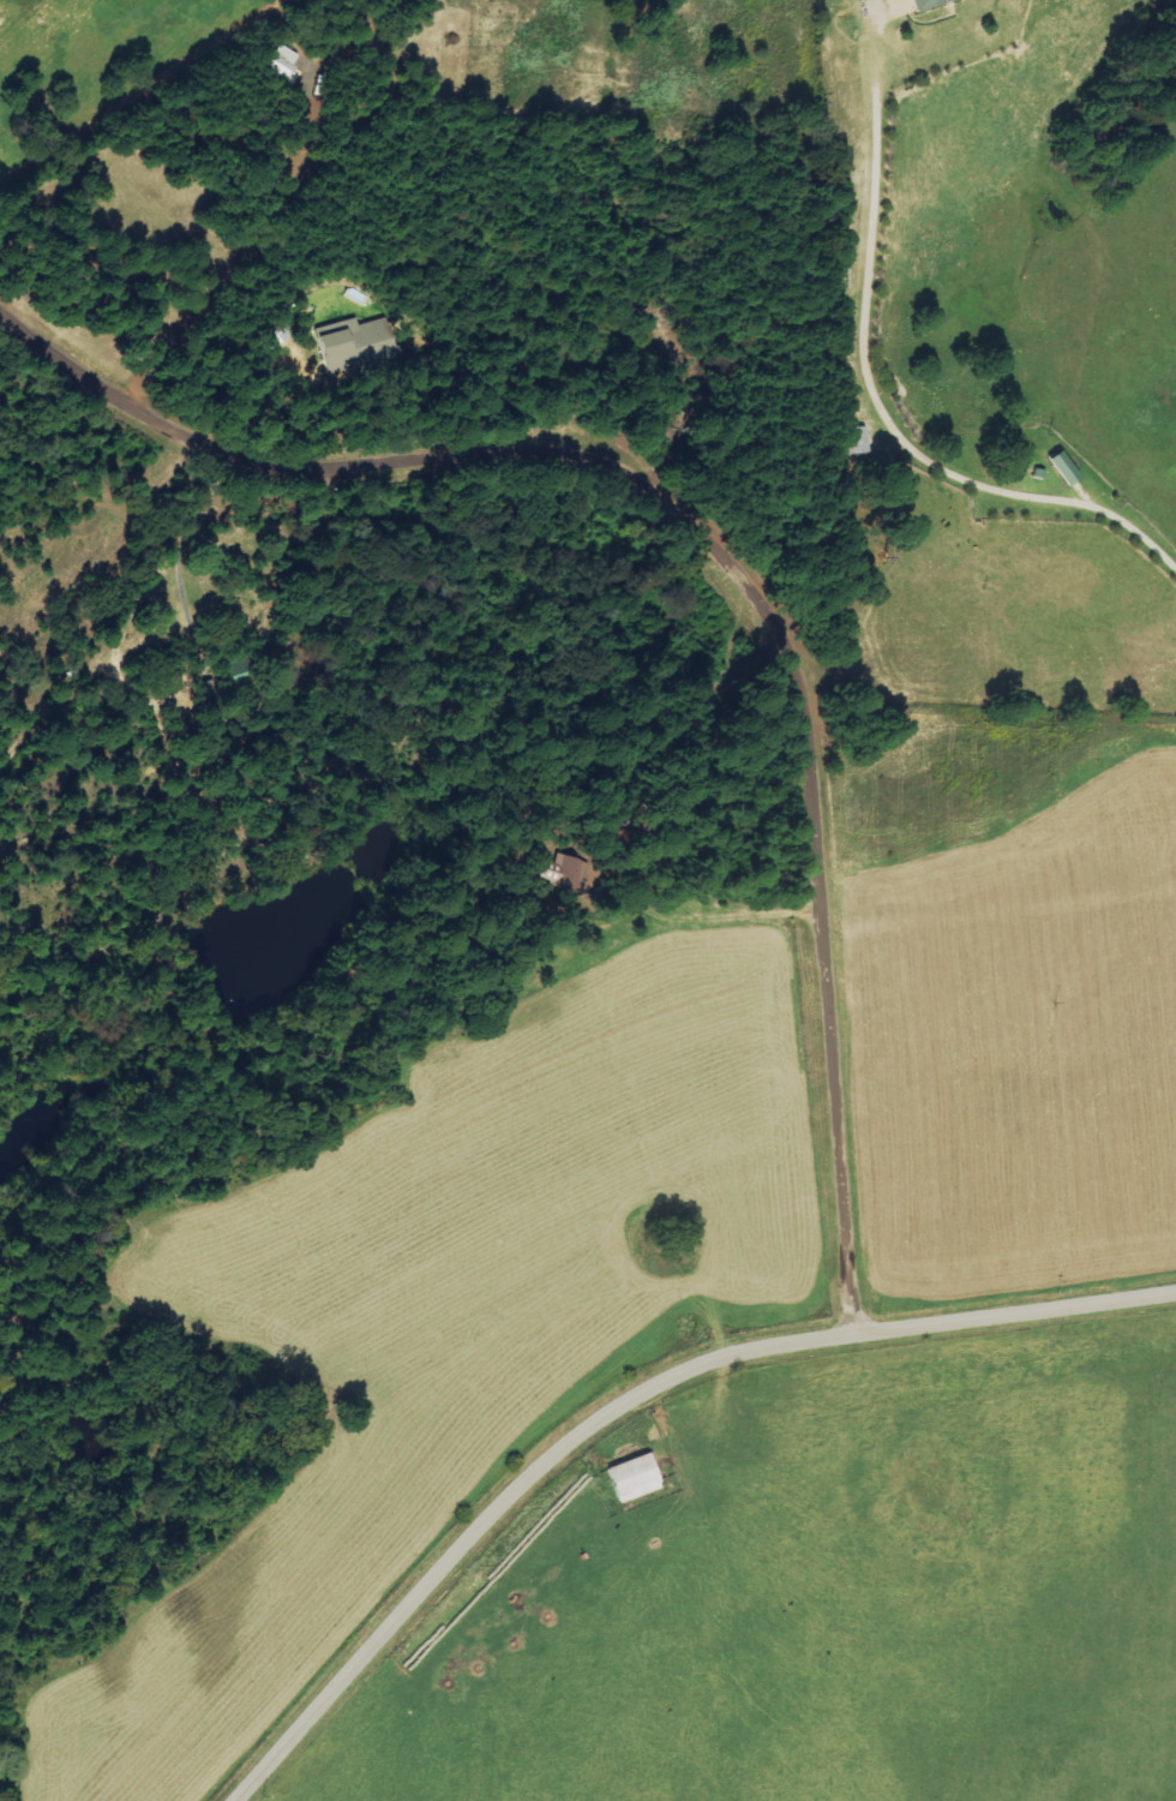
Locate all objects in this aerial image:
building: (942, 6)
building: (284, 62)
road: (878, 395)
building: (854, 441)
building: (1066, 467)
road: (724, 557)
building: (576, 876)
road: (632, 1402)
building: (642, 1485)

